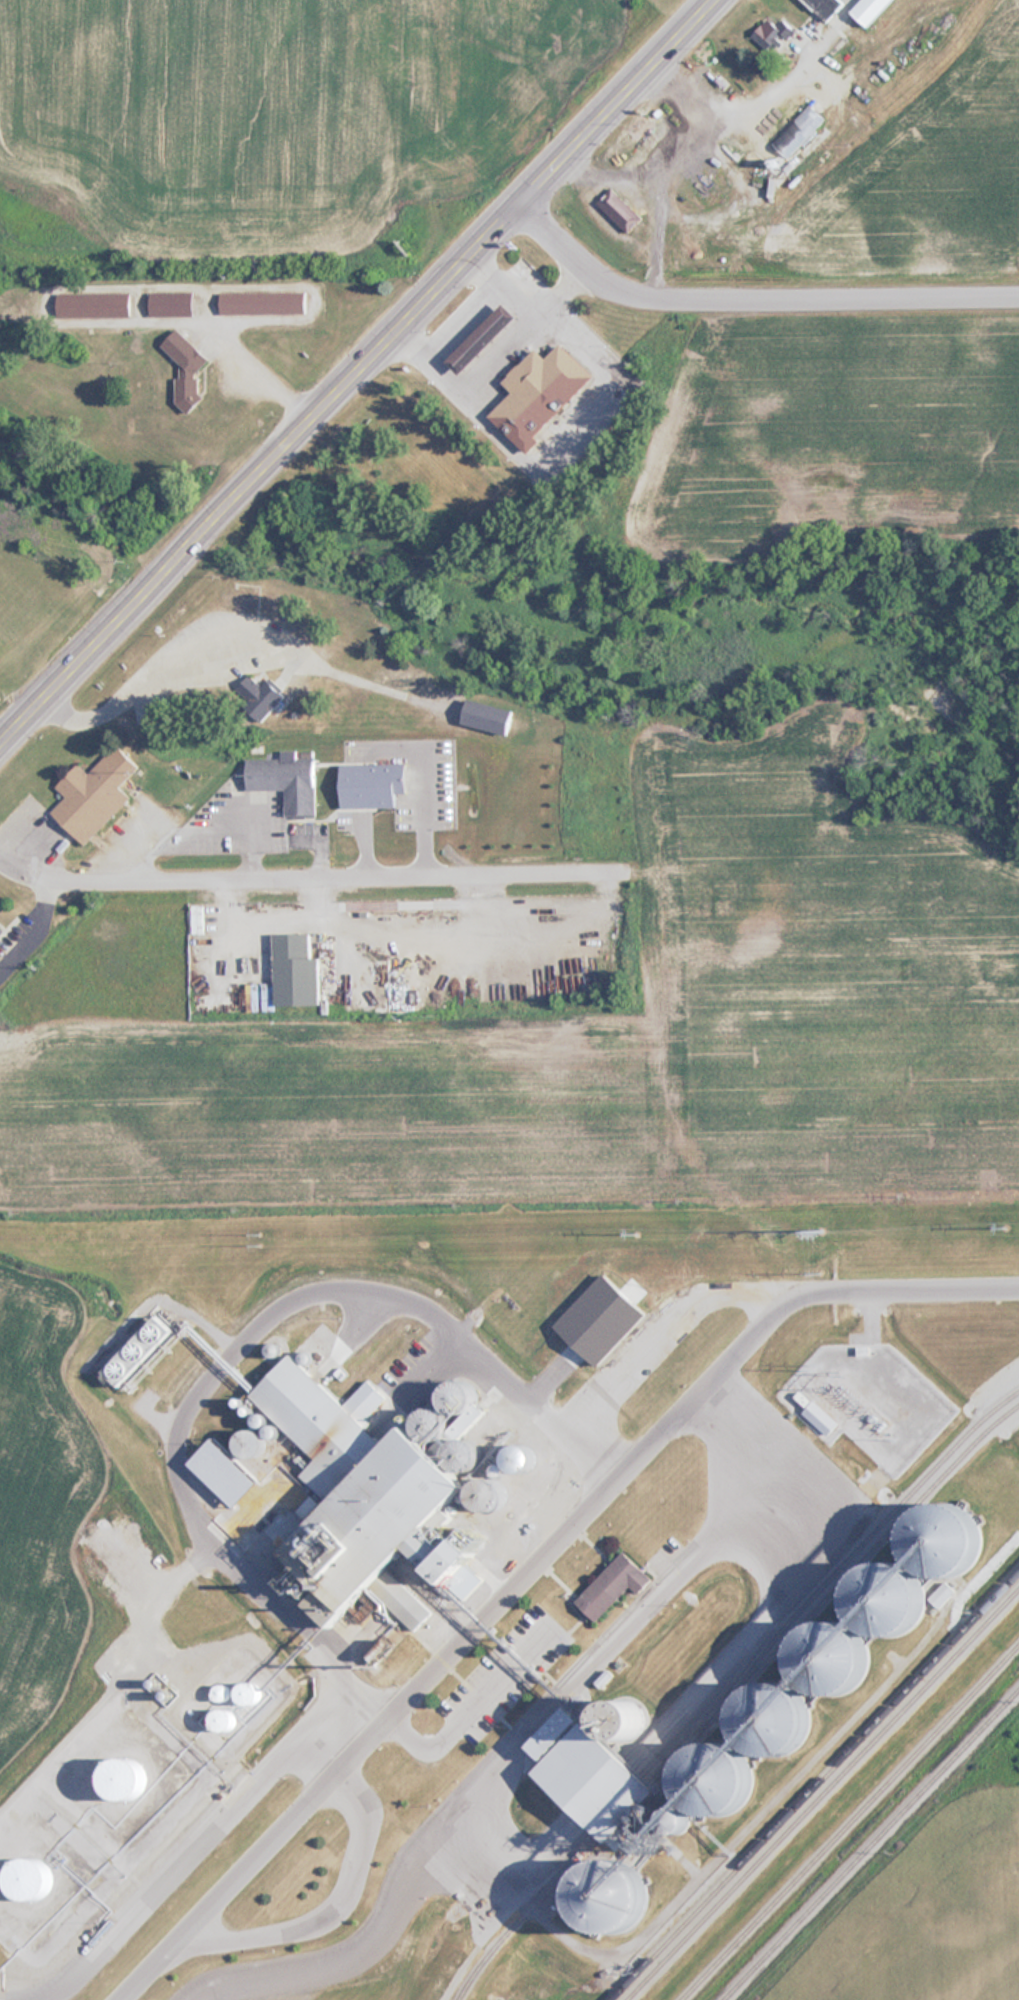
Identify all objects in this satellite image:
building: (823, 7)
building: (869, 10)
building: (773, 33)
road: (713, 109)
road: (734, 187)
building: (619, 211)
road: (649, 247)
road: (750, 298)
building: (261, 303)
building: (93, 304)
building: (170, 304)
building: (481, 339)
road: (356, 367)
building: (185, 369)
building: (538, 394)
building: (259, 696)
building: (487, 717)
building: (284, 782)
building: (93, 796)
road: (313, 877)
building: (1, 930)
building: (294, 969)
power tower: (1009, 1230)
power tower: (826, 1232)
power tower: (641, 1234)
power tower: (272, 1240)
road: (875, 1318)
road: (866, 1338)
road: (637, 1349)
road: (207, 1364)
power substation: (873, 1403)
building: (825, 1420)
building: (251, 1442)
building: (523, 1458)
building: (366, 1500)
road: (531, 1565)
road: (162, 1585)
building: (613, 1586)
building: (865, 1629)
railway: (734, 1695)
building: (222, 1720)
building: (567, 1765)
building: (122, 1780)
building: (709, 1785)
railway: (814, 1786)
railway: (820, 1793)
railway: (849, 1822)
railway: (870, 1844)
road: (184, 1856)
building: (30, 1879)
building: (610, 1896)

